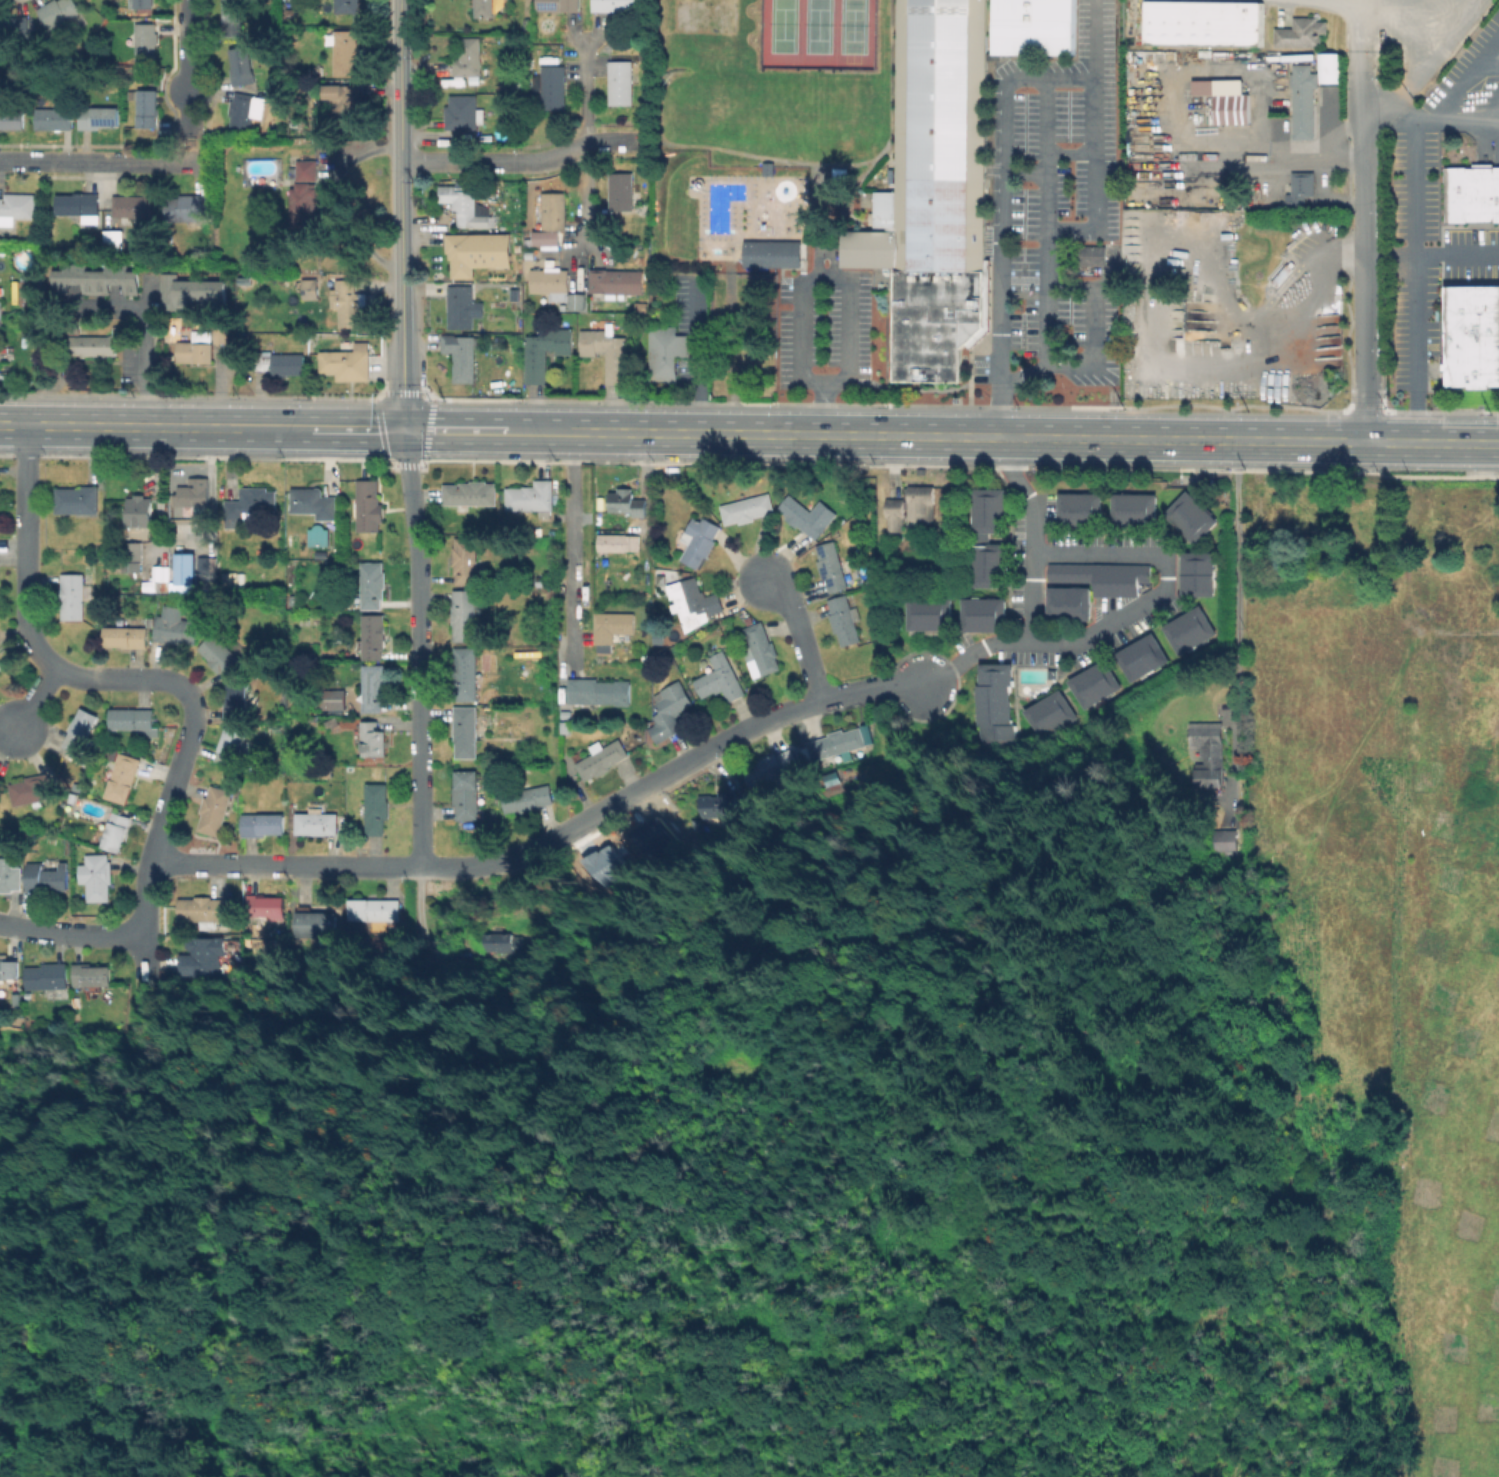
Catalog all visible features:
building: (143, 3)
rooftop solar panel: (545, 5)
building: (559, 5)
building: (618, 5)
building: (346, 6)
building: (484, 8)
road: (1357, 11)
building: (58, 12)
building: (233, 17)
building: (1202, 23)
building: (1035, 26)
building: (15, 28)
park: (816, 32)
building: (1301, 33)
building: (146, 41)
building: (346, 51)
building: (469, 57)
building: (996, 57)
road: (1426, 61)
road: (187, 66)
building: (242, 66)
building: (1326, 67)
building: (620, 82)
road: (1010, 83)
building: (554, 87)
road: (584, 92)
building: (0, 96)
building: (342, 97)
building: (1304, 100)
building: (1232, 108)
building: (147, 109)
building: (245, 111)
building: (464, 112)
building: (98, 117)
road: (1454, 117)
building: (12, 118)
building: (53, 118)
rooftop solar panel: (104, 126)
road: (577, 146)
road: (81, 161)
road: (460, 162)
building: (1101, 163)
building: (307, 169)
building: (1300, 188)
building: (621, 191)
building: (936, 191)
building: (1472, 194)
building: (304, 204)
building: (80, 205)
building: (16, 206)
building: (132, 207)
building: (467, 207)
building: (189, 209)
road: (401, 215)
building: (552, 221)
building: (113, 240)
road: (1365, 246)
building: (1091, 250)
building: (529, 253)
building: (770, 253)
building: (461, 254)
road: (1432, 254)
road: (1418, 257)
building: (93, 278)
building: (616, 279)
building: (245, 282)
building: (550, 283)
building: (311, 289)
building: (188, 291)
building: (23, 292)
building: (514, 294)
building: (347, 300)
building: (577, 301)
building: (461, 306)
parking lot: (821, 331)
road: (143, 333)
building: (221, 335)
building: (1471, 336)
building: (89, 345)
building: (197, 348)
building: (546, 351)
building: (608, 352)
building: (666, 352)
building: (463, 353)
building: (279, 363)
building: (346, 364)
road: (703, 370)
road: (851, 379)
road: (828, 407)
road: (119, 426)
road: (276, 428)
road: (358, 429)
traffic signals: (405, 430)
road: (456, 430)
road: (539, 431)
road: (611, 432)
road: (690, 433)
road: (754, 434)
road: (867, 435)
road: (1098, 439)
road: (1303, 441)
road: (1432, 443)
building: (193, 494)
building: (469, 494)
road: (1024, 495)
building: (533, 498)
building: (77, 501)
building: (623, 501)
building: (314, 502)
building: (249, 506)
building: (368, 506)
building: (749, 508)
building: (1077, 508)
building: (1132, 508)
building: (912, 509)
building: (987, 510)
building: (138, 511)
building: (808, 516)
building: (1189, 517)
building: (181, 529)
building: (318, 535)
building: (699, 540)
building: (617, 542)
road: (573, 546)
rooftop solar panel: (820, 550)
building: (134, 553)
building: (320, 554)
building: (466, 560)
building: (831, 566)
building: (987, 567)
building: (184, 569)
building: (204, 571)
rooftop solar panel: (823, 571)
building: (163, 572)
building: (1196, 573)
building: (1102, 576)
building: (543, 581)
rooftop solar panel: (828, 581)
building: (373, 583)
building: (73, 595)
building: (693, 602)
building: (1066, 603)
road: (1137, 608)
building: (926, 612)
building: (981, 614)
building: (464, 615)
building: (844, 620)
road: (1240, 623)
building: (612, 626)
building: (175, 627)
building: (1187, 629)
building: (126, 636)
building: (373, 636)
road: (798, 636)
building: (658, 637)
building: (670, 644)
road: (419, 648)
building: (760, 652)
road: (972, 652)
building: (219, 655)
building: (1141, 657)
building: (1, 665)
building: (1050, 673)
building: (467, 674)
road: (144, 678)
building: (720, 680)
building: (1093, 684)
building: (374, 687)
road: (858, 691)
building: (598, 692)
building: (992, 698)
building: (332, 699)
road: (36, 701)
building: (236, 701)
building: (672, 707)
building: (1046, 713)
building: (566, 714)
building: (313, 717)
building: (135, 720)
building: (565, 728)
building: (466, 731)
building: (867, 732)
building: (81, 733)
building: (373, 739)
building: (836, 742)
building: (230, 745)
building: (1209, 750)
building: (602, 758)
building: (0, 773)
building: (771, 774)
building: (123, 777)
building: (832, 779)
building: (33, 790)
building: (467, 795)
building: (527, 798)
building: (719, 805)
building: (376, 807)
building: (215, 809)
building: (261, 823)
building: (316, 823)
building: (116, 831)
building: (1223, 840)
road: (491, 862)
building: (9, 874)
building: (97, 876)
building: (45, 878)
building: (266, 905)
building: (374, 908)
building: (204, 910)
building: (241, 923)
building: (317, 924)
road: (71, 934)
building: (501, 941)
building: (201, 959)
building: (10, 971)
building: (91, 975)
building: (48, 978)
road: (951, 987)
building: (29, 995)
building: (75, 1002)
road: (83, 1070)
road: (1248, 1071)
road: (826, 1358)

